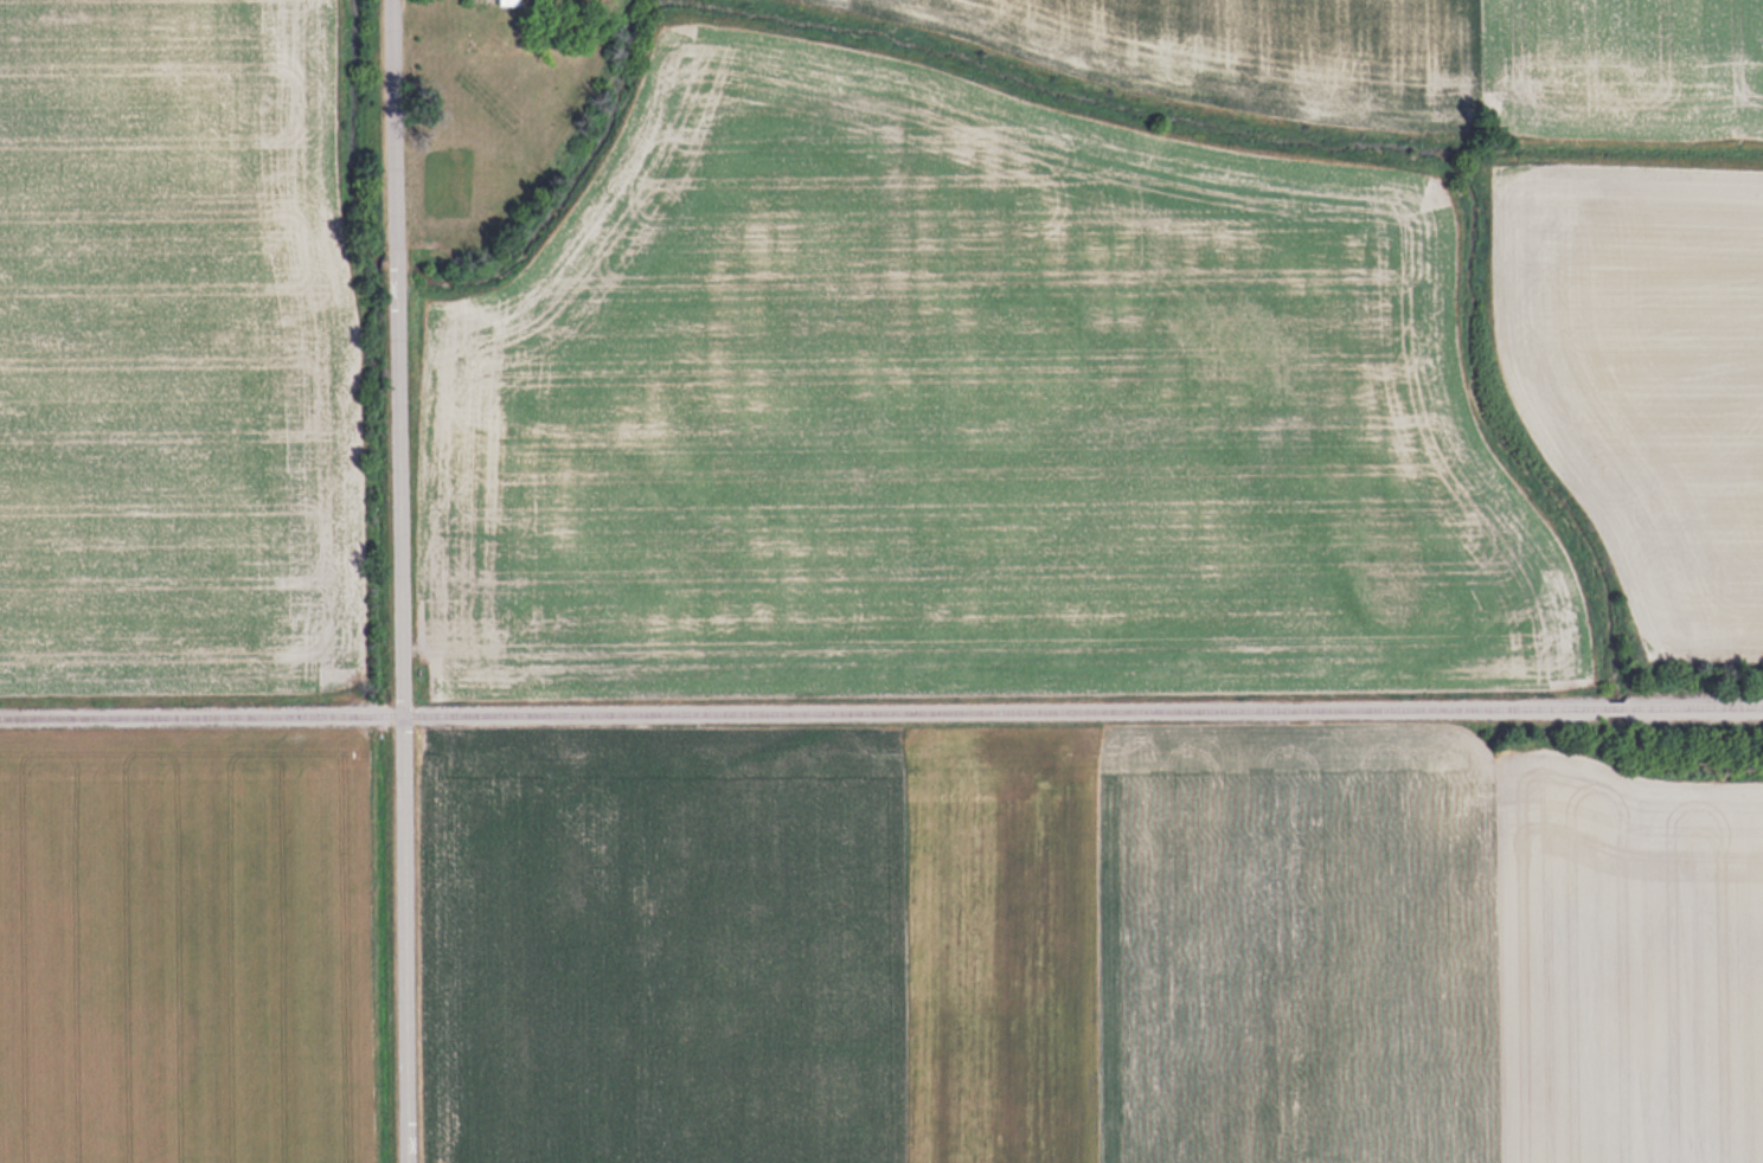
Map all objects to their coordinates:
road: (400, 580)
railway: (1692, 706)
railway: (1615, 707)
railway: (804, 712)

